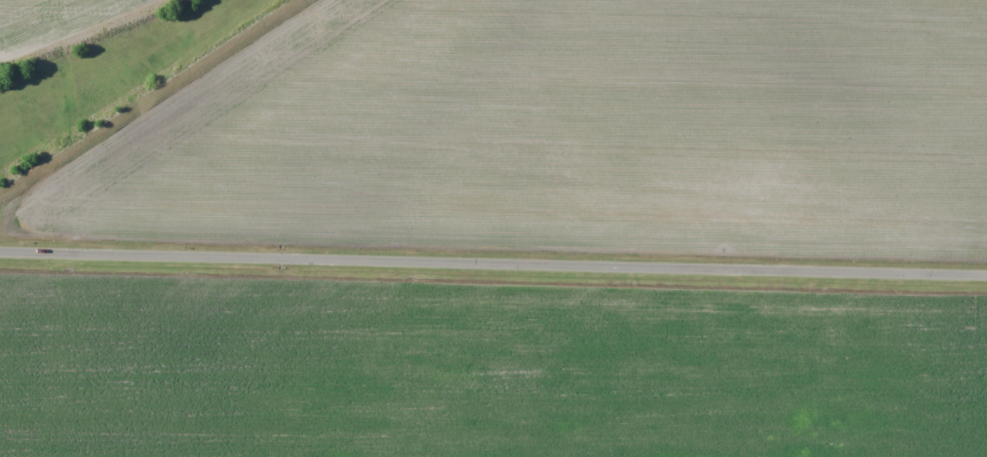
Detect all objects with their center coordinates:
road: (493, 259)

